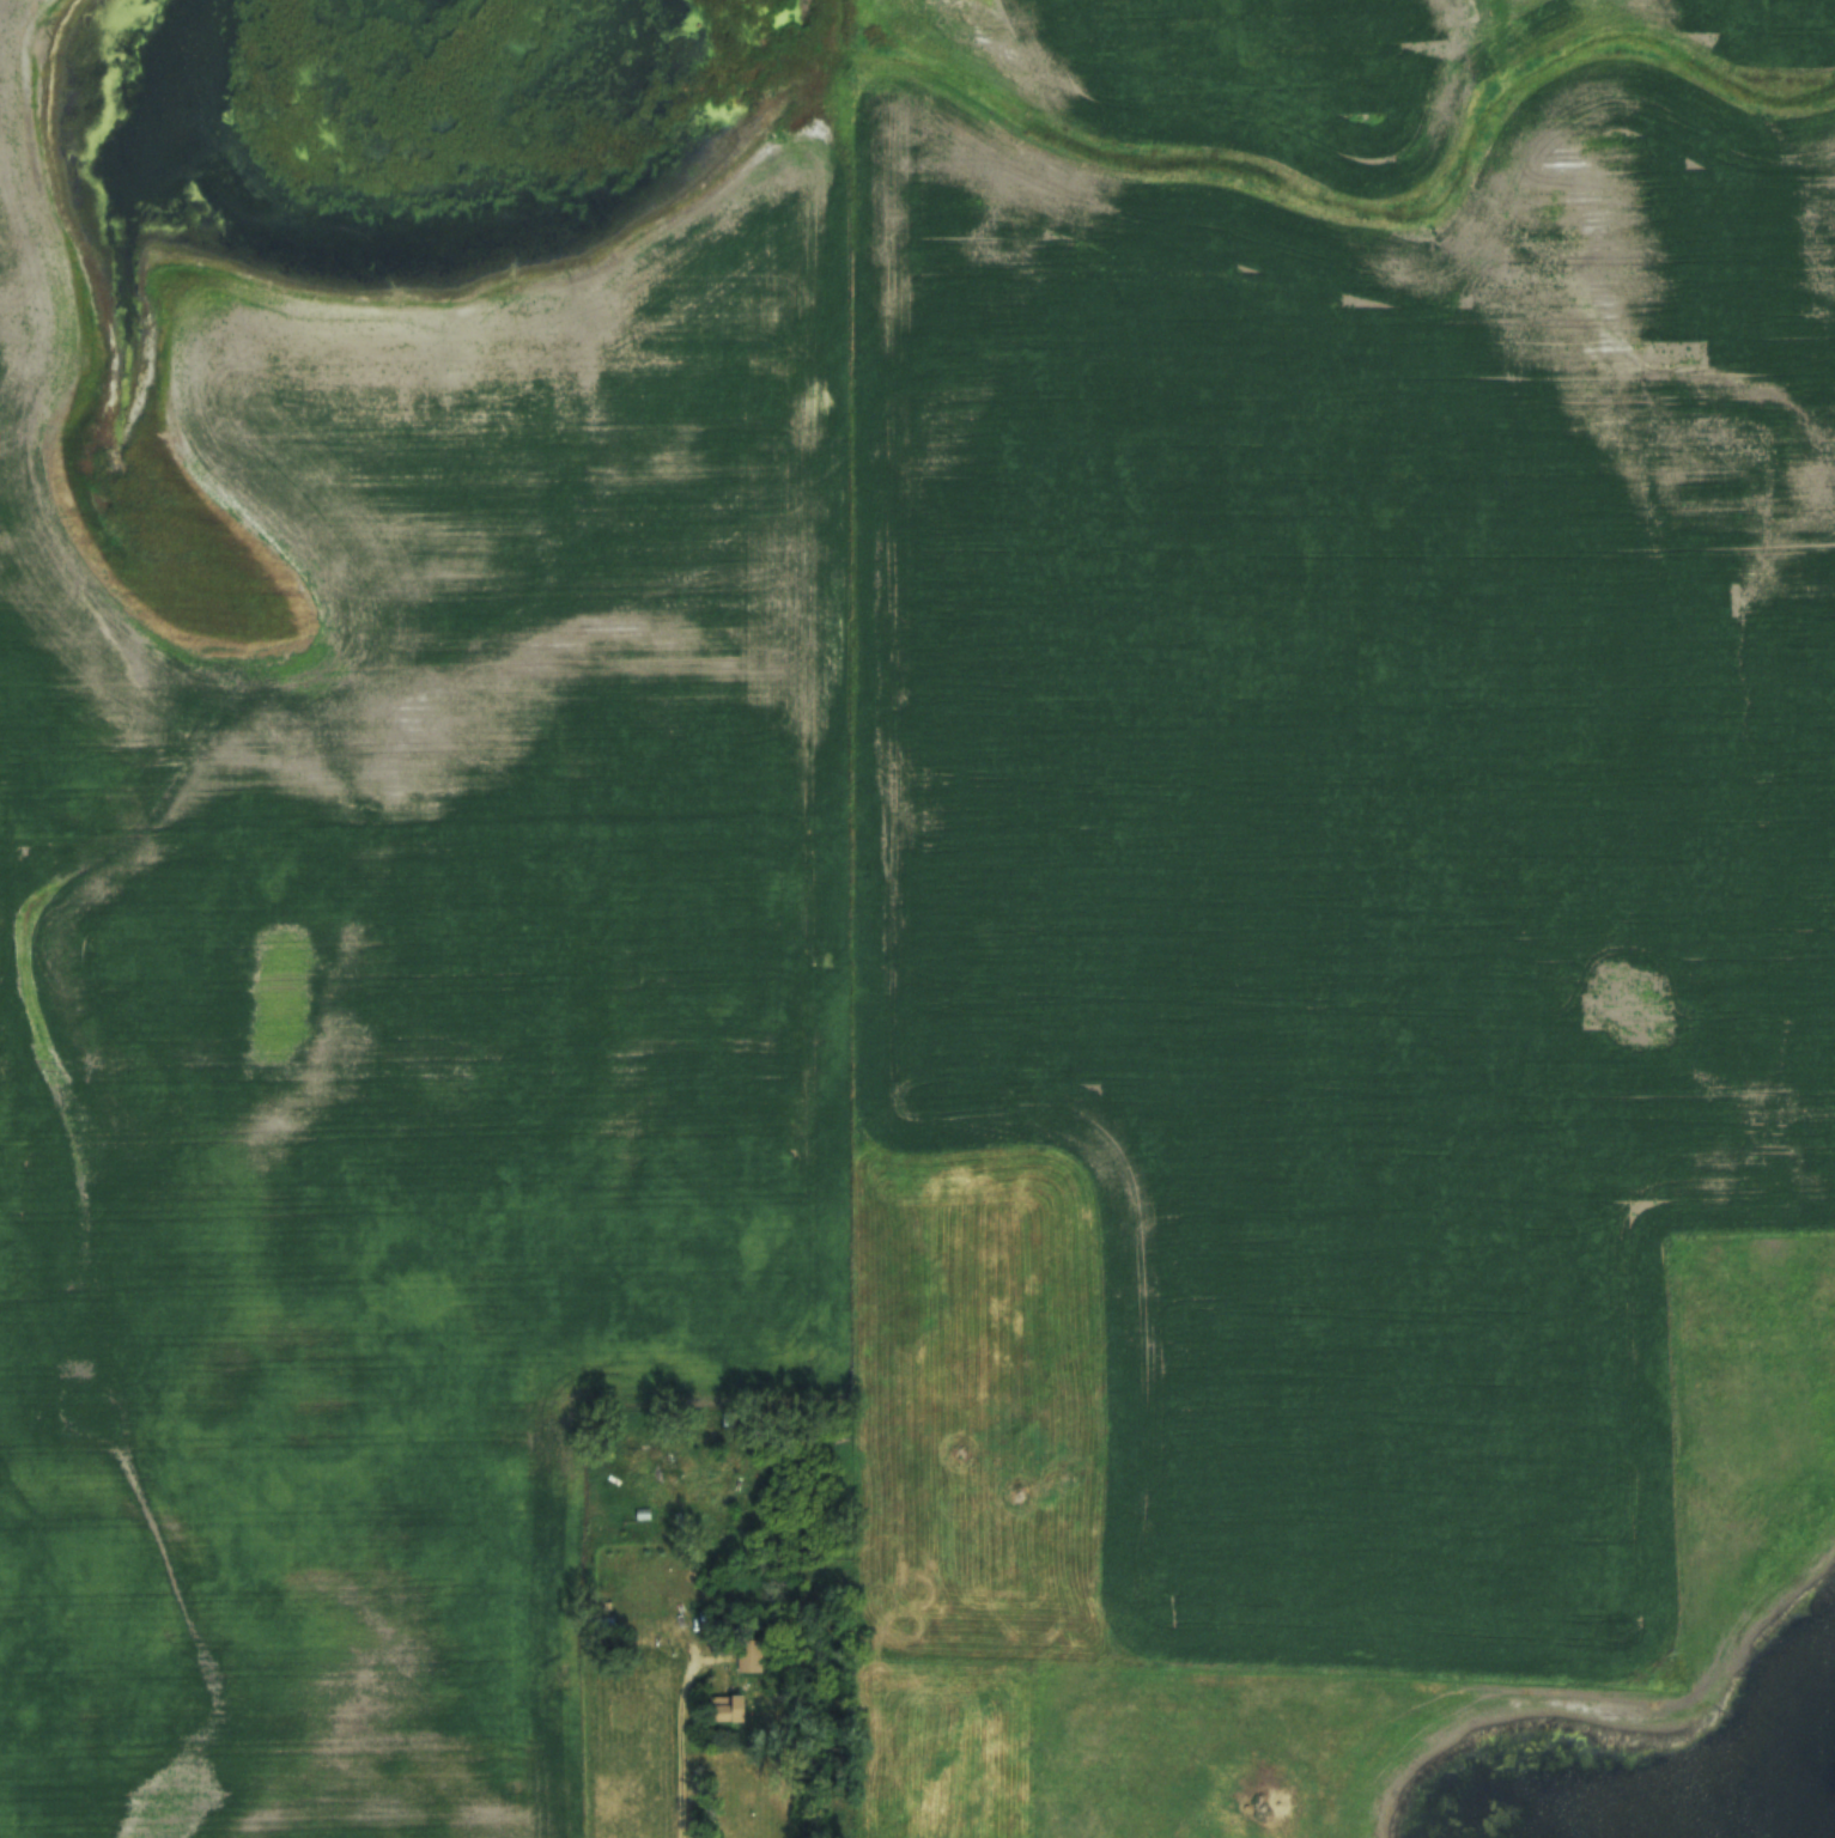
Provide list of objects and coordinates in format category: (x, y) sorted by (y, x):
building: (749, 1657)
building: (728, 1710)
road: (675, 1746)

